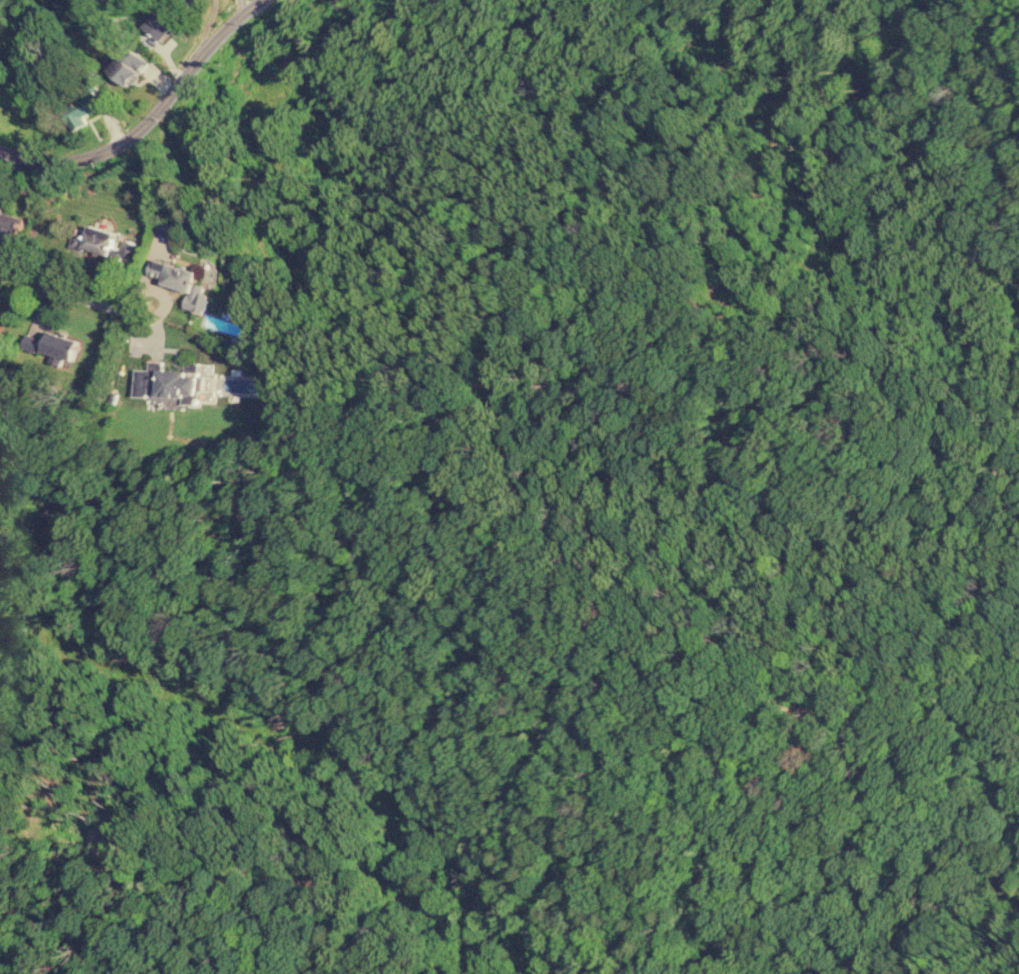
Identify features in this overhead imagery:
building: (189, 1)
building: (160, 23)
building: (129, 65)
building: (80, 109)
road: (152, 114)
building: (98, 239)
building: (127, 251)
building: (179, 280)
road: (67, 289)
building: (60, 344)

